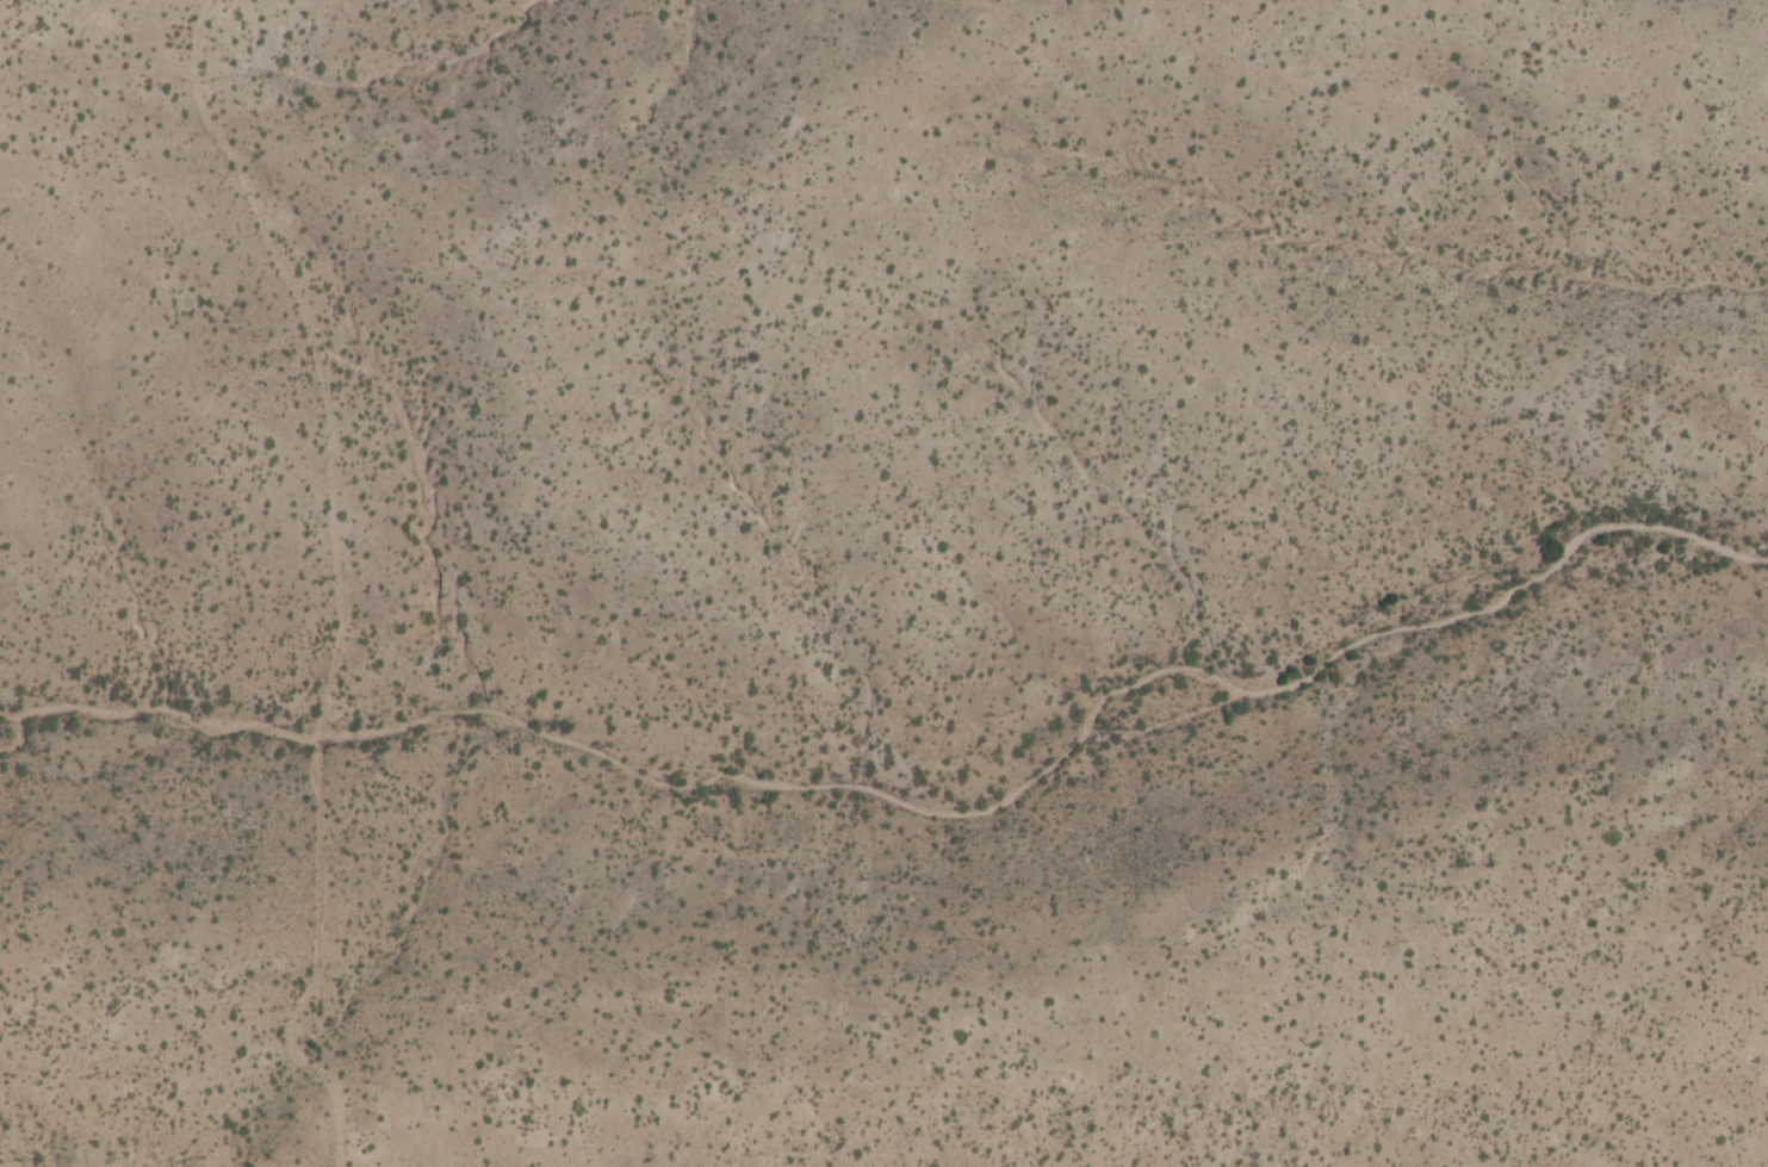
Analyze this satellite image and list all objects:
road: (336, 582)

